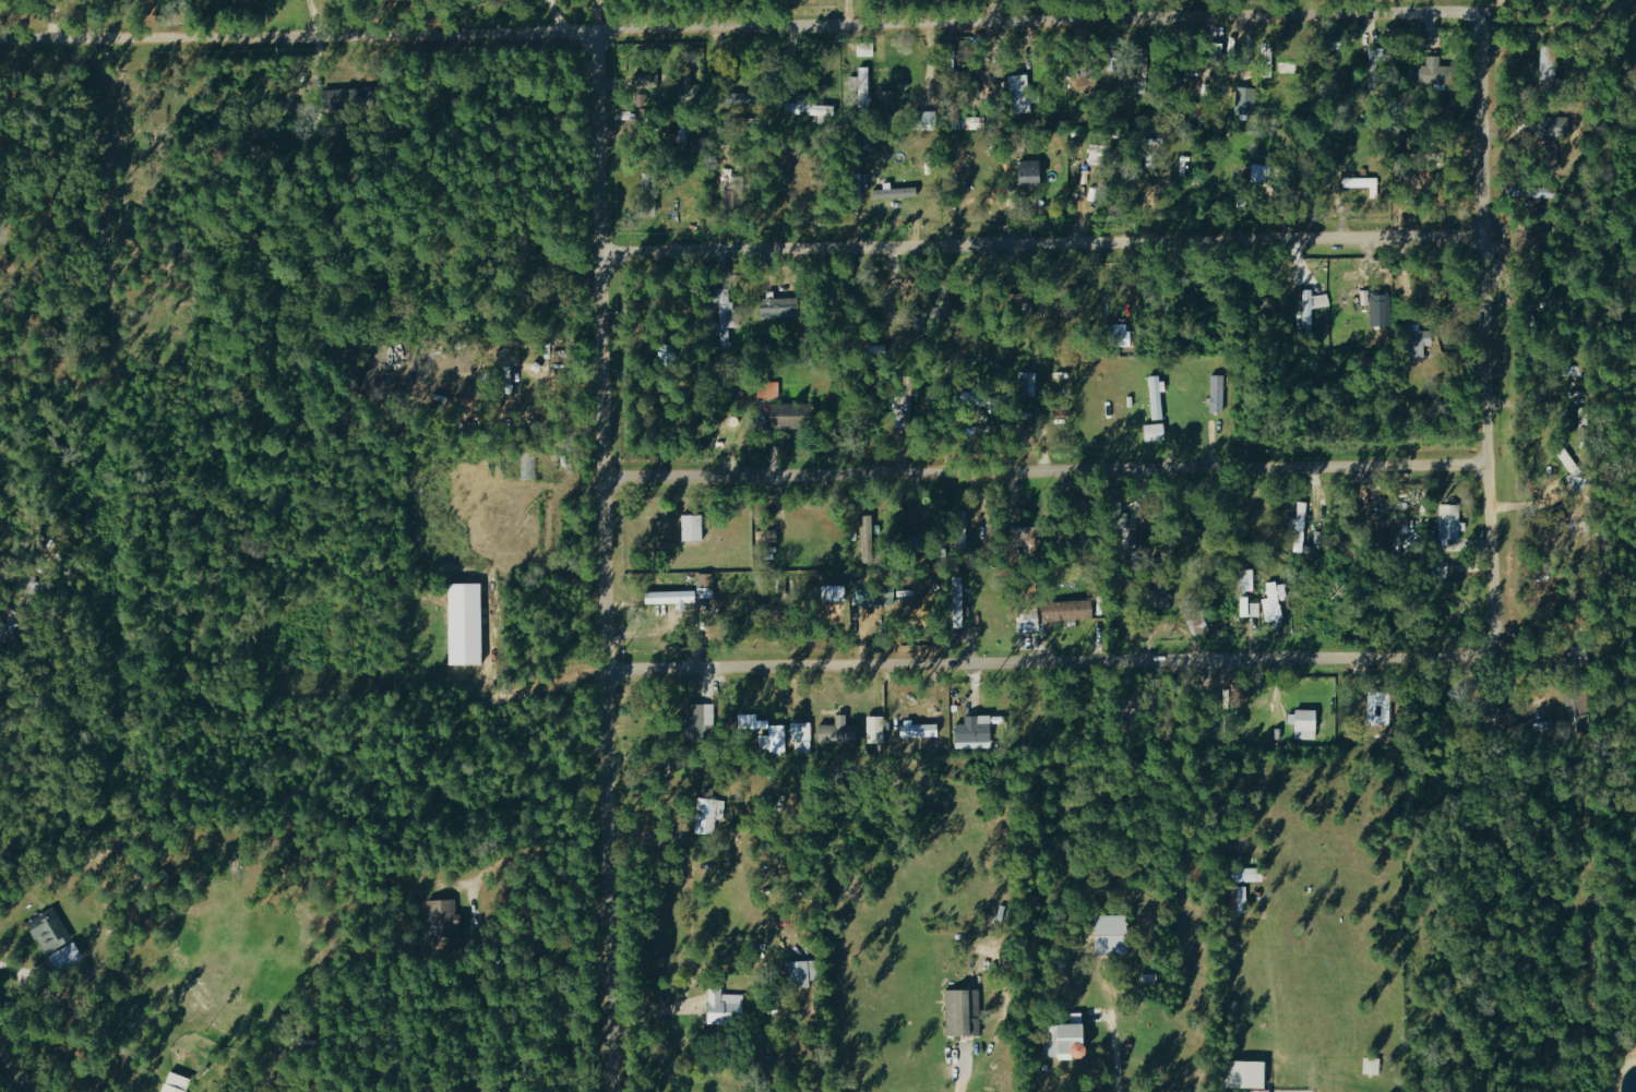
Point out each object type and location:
road: (1486, 7)
road: (993, 11)
road: (846, 12)
road: (552, 13)
road: (596, 13)
road: (314, 14)
road: (51, 16)
road: (761, 24)
building: (865, 49)
building: (1541, 61)
road: (932, 64)
building: (1435, 71)
building: (864, 74)
building: (647, 81)
building: (1023, 93)
building: (345, 96)
building: (745, 98)
building: (886, 98)
building: (1247, 99)
building: (804, 106)
building: (1547, 155)
building: (1087, 164)
building: (1031, 170)
building: (1262, 171)
building: (1364, 183)
building: (1527, 190)
building: (896, 192)
road: (1034, 236)
building: (780, 307)
building: (1311, 308)
building: (726, 319)
building: (1396, 325)
building: (668, 353)
building: (1028, 382)
building: (769, 387)
building: (1218, 392)
building: (1158, 396)
building: (900, 407)
building: (788, 413)
building: (1156, 431)
building: (527, 465)
road: (1042, 469)
building: (1445, 520)
building: (1388, 524)
building: (694, 525)
building: (1295, 526)
building: (767, 533)
building: (868, 537)
road: (594, 553)
road: (1, 578)
building: (705, 578)
building: (835, 590)
building: (1162, 591)
building: (870, 593)
building: (672, 595)
building: (1274, 599)
building: (1250, 605)
building: (9, 615)
building: (468, 622)
road: (1360, 657)
road: (1508, 688)
building: (1305, 722)
building: (876, 727)
building: (839, 730)
building: (975, 731)
building: (803, 735)
building: (780, 737)
building: (709, 809)
building: (1247, 873)
building: (1239, 898)
building: (442, 916)
building: (49, 928)
building: (1115, 932)
road: (12, 971)
building: (804, 971)
building: (726, 1006)
building: (964, 1010)
road: (647, 1022)
building: (1066, 1037)
road: (1118, 1041)
building: (1250, 1072)
road: (12, 1077)
road: (966, 1079)
building: (177, 1082)
building: (1262, 1090)

